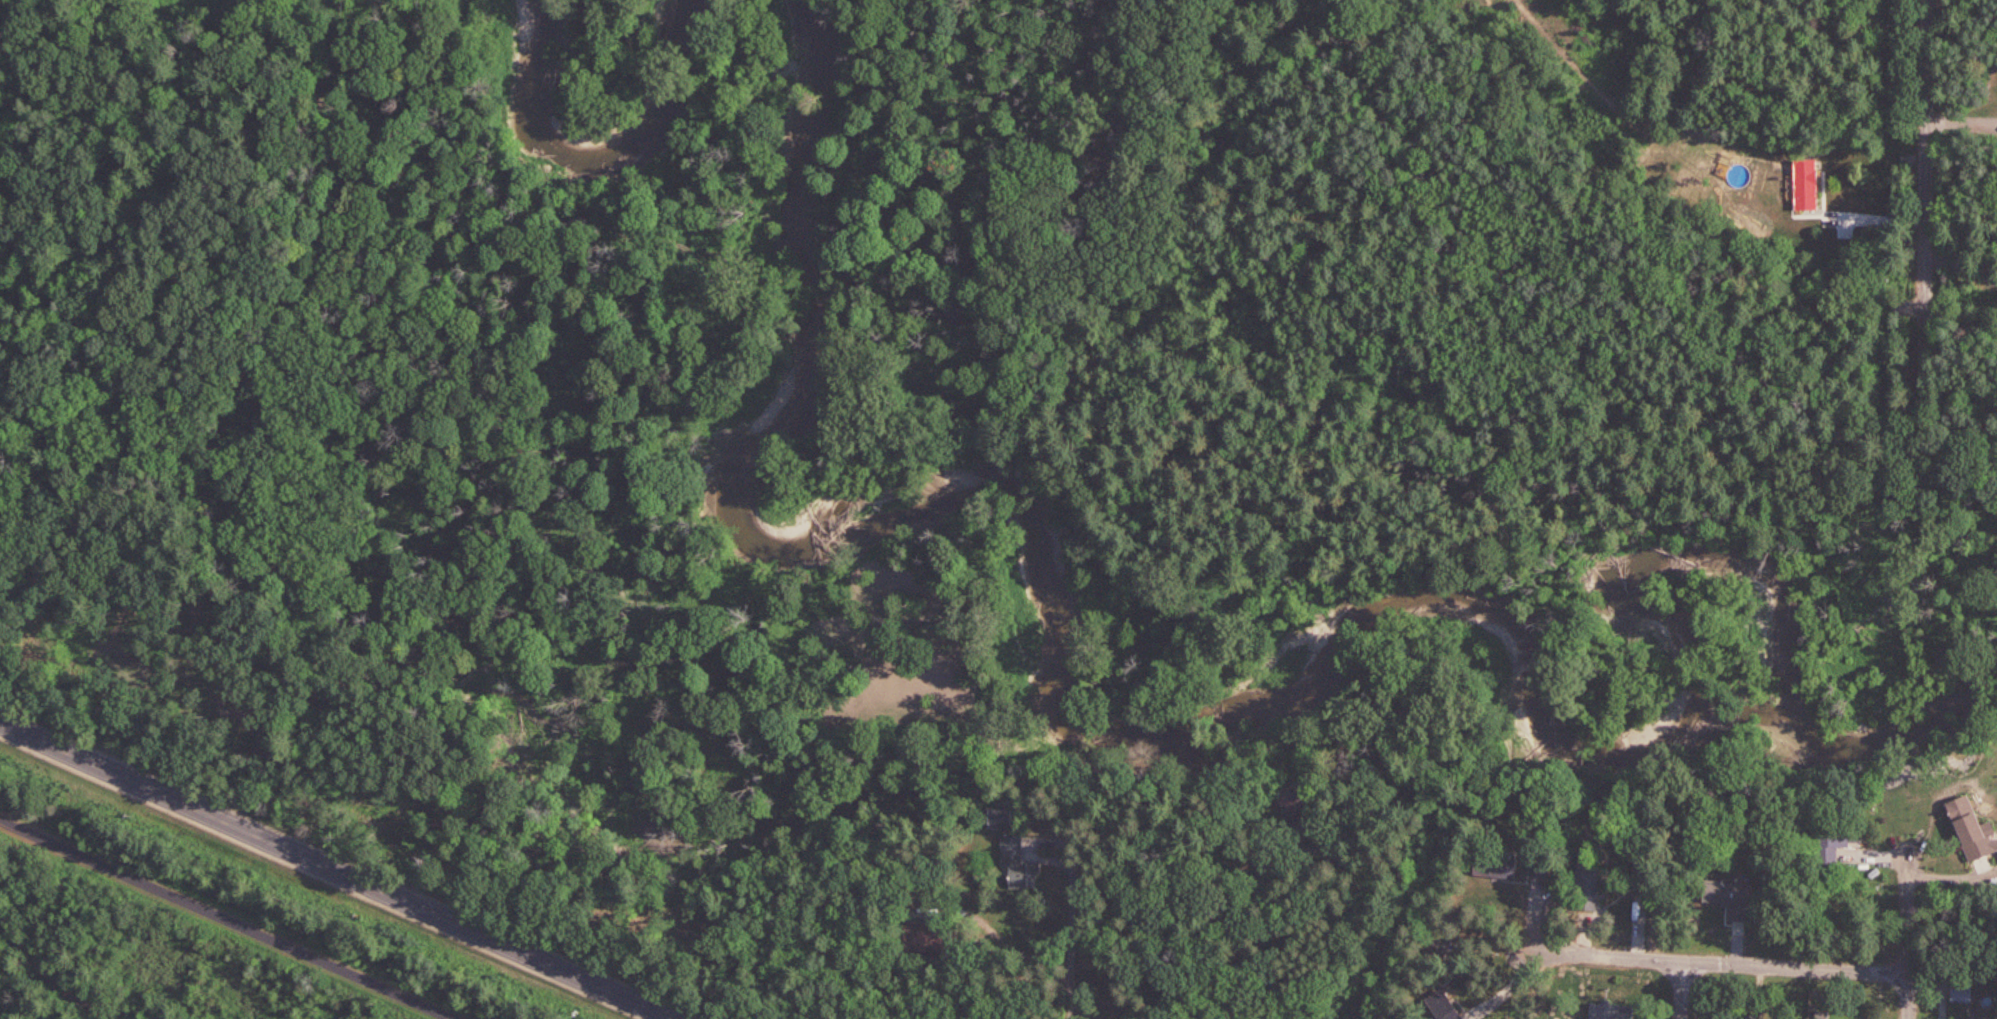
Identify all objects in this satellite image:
river: (593, 152)
road: (1925, 168)
building: (1805, 182)
river: (1268, 685)
building: (1296, 803)
building: (1973, 831)
building: (1839, 843)
building: (1015, 857)
building: (1542, 859)
building: (1494, 864)
building: (1247, 866)
road: (336, 870)
building: (1590, 888)
building: (1728, 891)
road: (226, 919)
road: (1074, 933)
road: (1910, 935)
building: (926, 936)
road: (1710, 961)
road: (49, 977)
building: (1960, 987)
road: (1680, 989)
building: (1447, 1004)
building: (1597, 1006)
building: (1747, 1014)
building: (1968, 1018)

